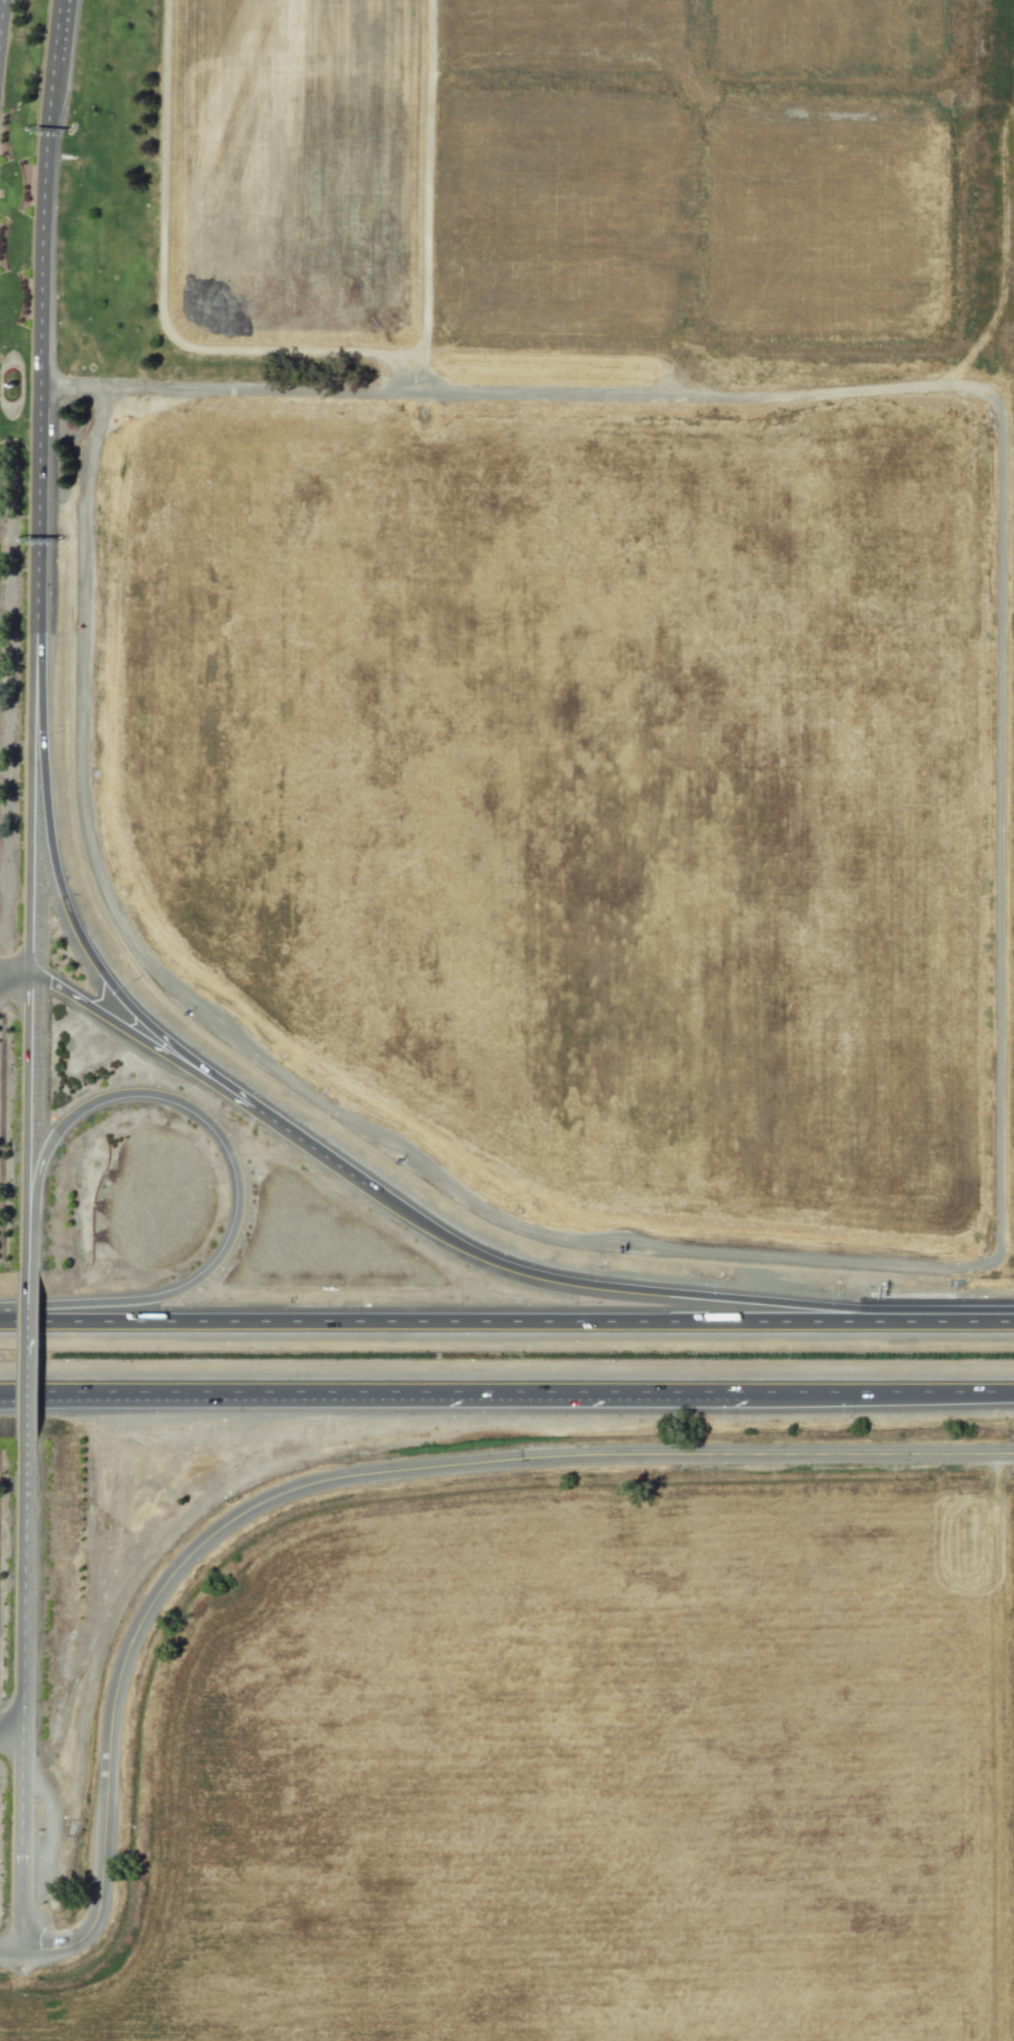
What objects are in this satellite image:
road: (1, 13)
road: (56, 15)
road: (63, 15)
road: (41, 316)
airport: (507, 636)
road: (31, 791)
road: (89, 955)
road: (13, 978)
road: (196, 1077)
road: (25, 1101)
road: (238, 1170)
road: (28, 1248)
road: (631, 1290)
road: (461, 1323)
road: (969, 1323)
road: (27, 1356)
road: (61, 1393)
road: (442, 1393)
road: (888, 1393)
road: (61, 1398)
road: (343, 1477)
road: (23, 1593)
road: (10, 1725)
road: (11, 1744)
crop: (576, 1785)
road: (47, 1822)
road: (20, 1847)

